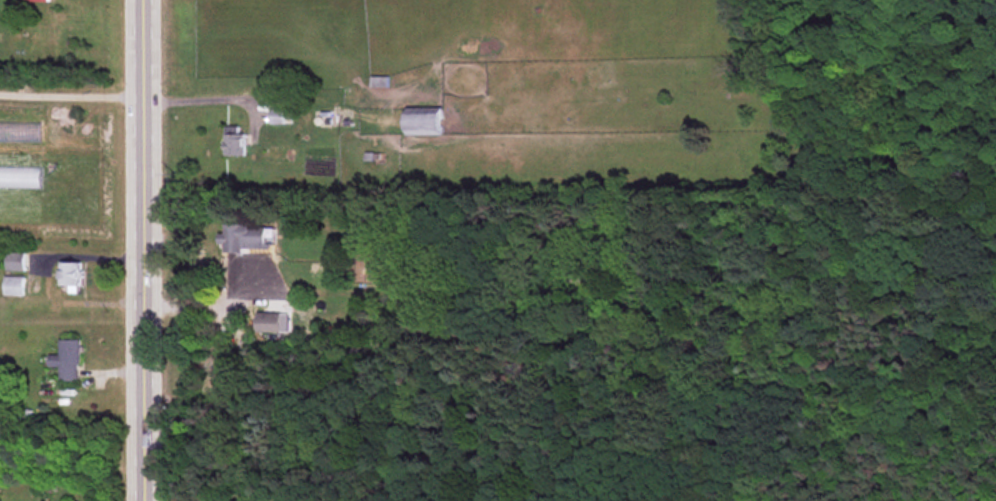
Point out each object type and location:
building: (36, 1)
road: (72, 93)
road: (204, 99)
building: (275, 116)
building: (421, 124)
building: (232, 141)
building: (244, 238)
road: (145, 250)
building: (13, 262)
building: (70, 276)
building: (12, 286)
road: (214, 299)
building: (267, 322)
building: (65, 359)

